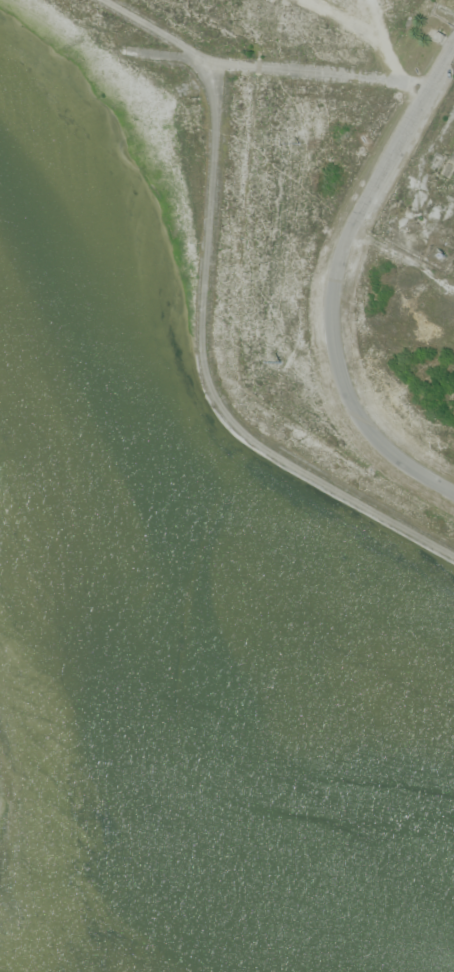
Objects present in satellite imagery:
building: (438, 37)
road: (386, 54)
road: (402, 259)
road: (335, 280)
road: (202, 309)
power plant: (226, 486)

